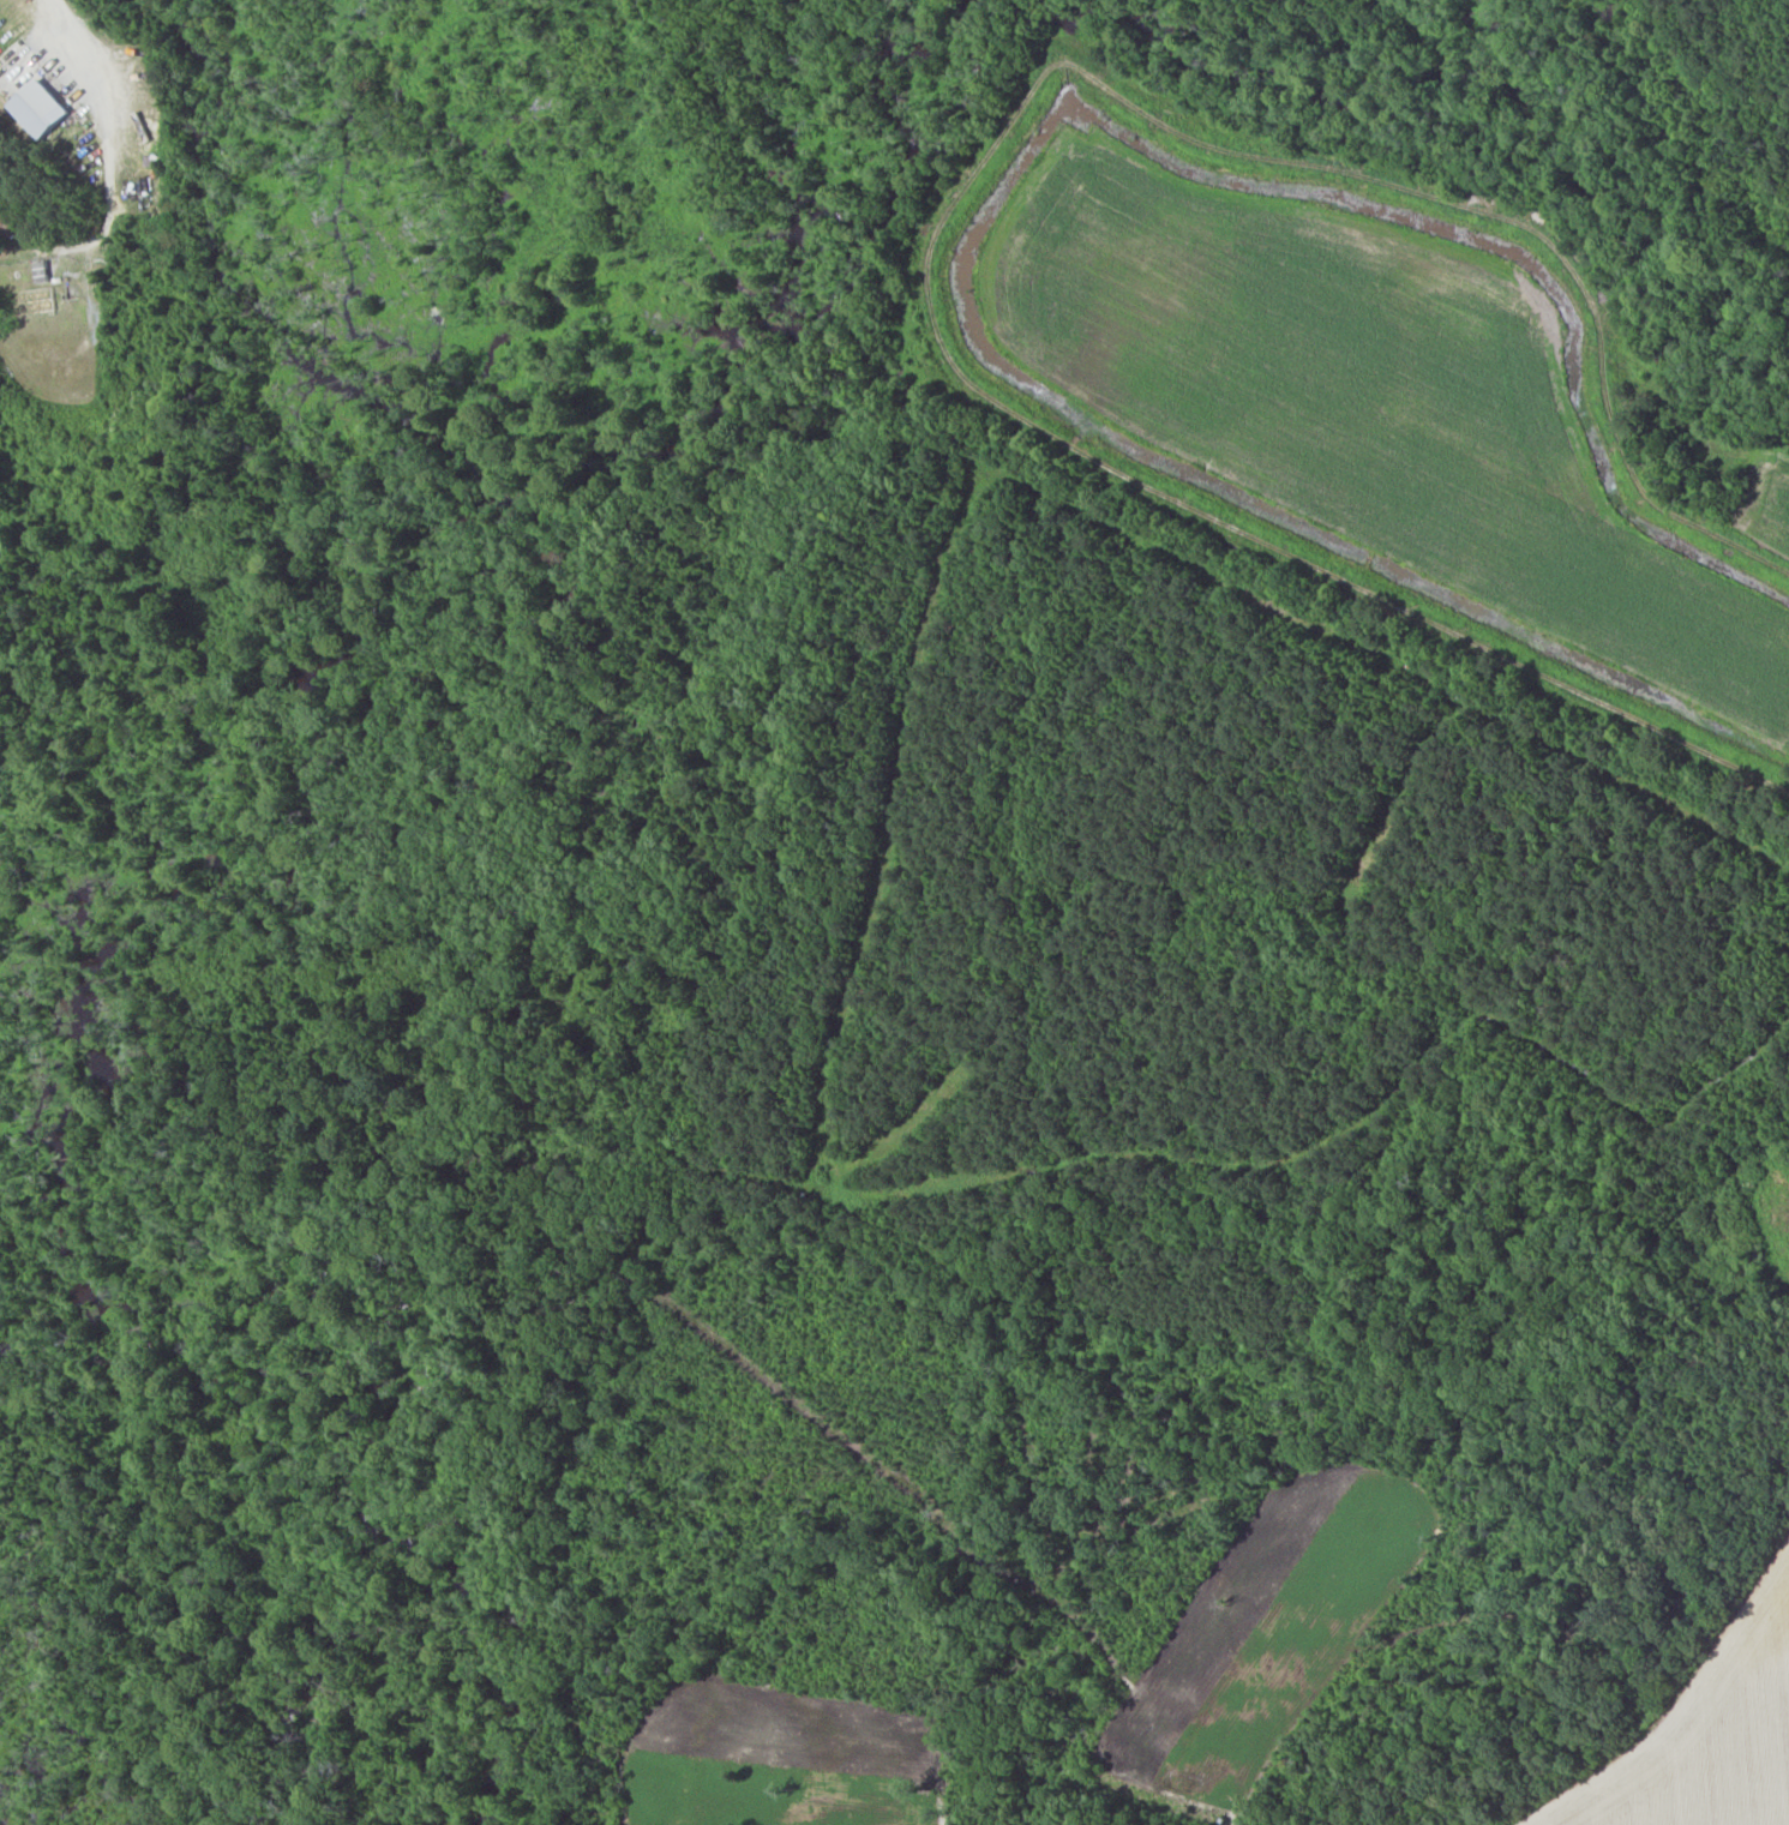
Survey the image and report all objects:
road: (20, 36)
building: (37, 109)
road: (110, 170)
wastewater plant: (140, 322)
wastewater plant: (64, 347)
wastewater plant: (152, 384)
wastewater plant: (70, 402)
wastewater plant: (79, 461)

